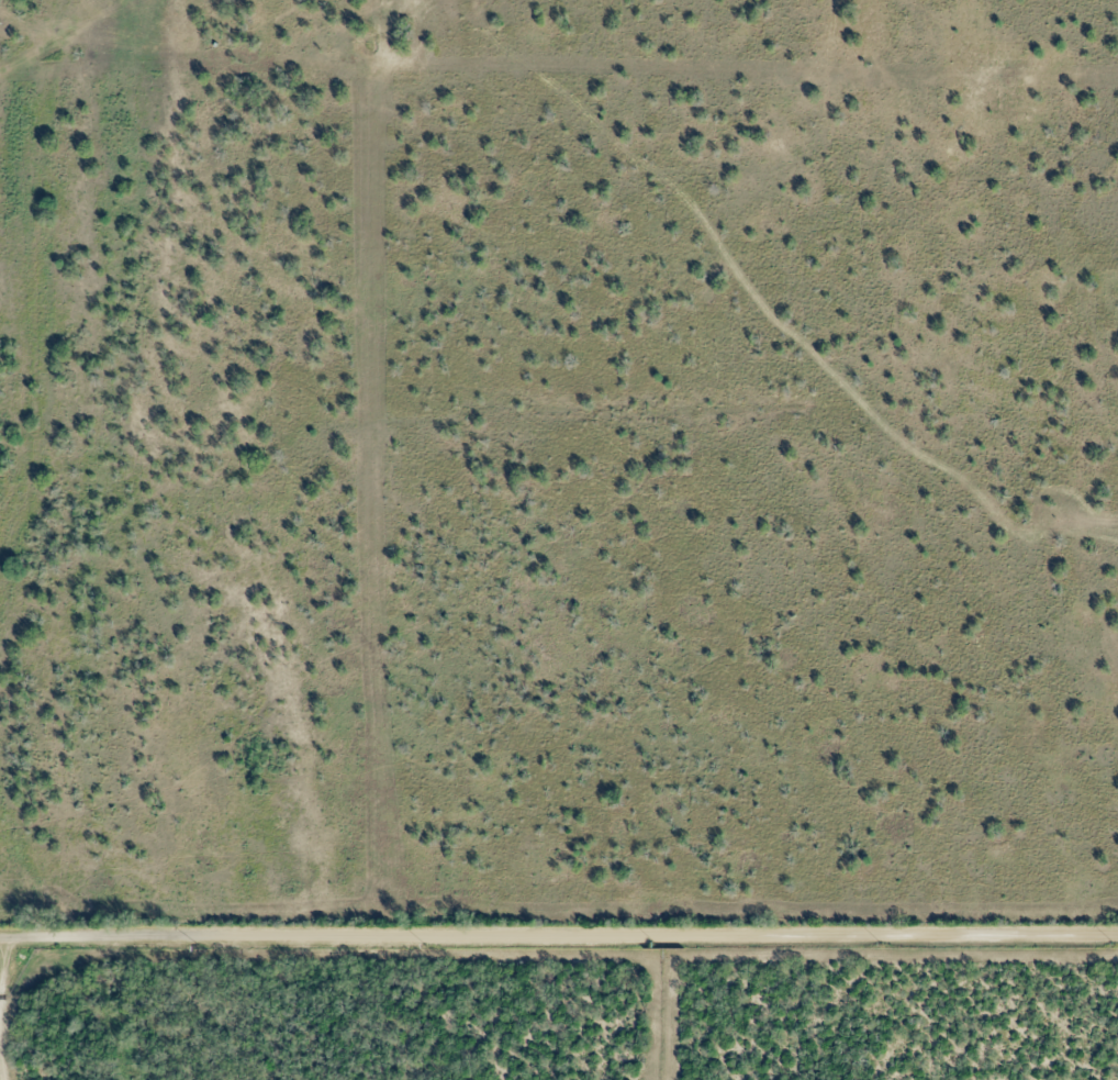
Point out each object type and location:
road: (558, 931)

